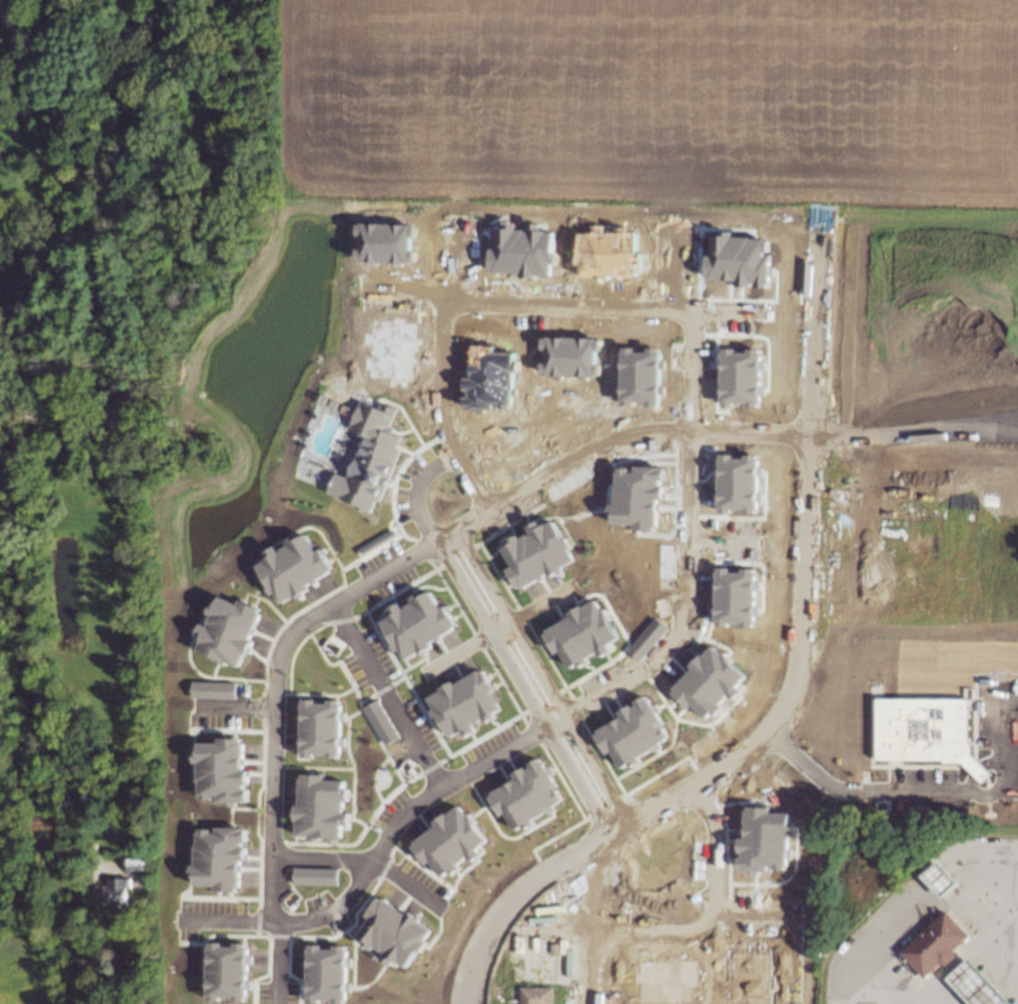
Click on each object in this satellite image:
crop: (648, 100)
building: (738, 260)
road: (563, 306)
road: (438, 375)
building: (739, 377)
building: (367, 458)
building: (736, 483)
building: (535, 553)
road: (407, 558)
building: (291, 567)
building: (734, 597)
building: (416, 624)
building: (227, 631)
building: (579, 634)
building: (707, 682)
road: (532, 683)
building: (213, 690)
road: (601, 693)
building: (463, 702)
building: (379, 722)
building: (319, 728)
building: (921, 730)
building: (631, 732)
building: (221, 770)
building: (525, 795)
building: (320, 807)
building: (448, 842)
building: (219, 858)
building: (140, 865)
building: (314, 876)
building: (938, 884)
building: (119, 895)
road: (516, 899)
road: (926, 916)
building: (392, 931)
road: (98, 937)
building: (555, 947)
building: (933, 950)
road: (962, 954)
road: (1016, 964)
building: (227, 971)
building: (326, 973)
building: (971, 988)
building: (536, 995)

